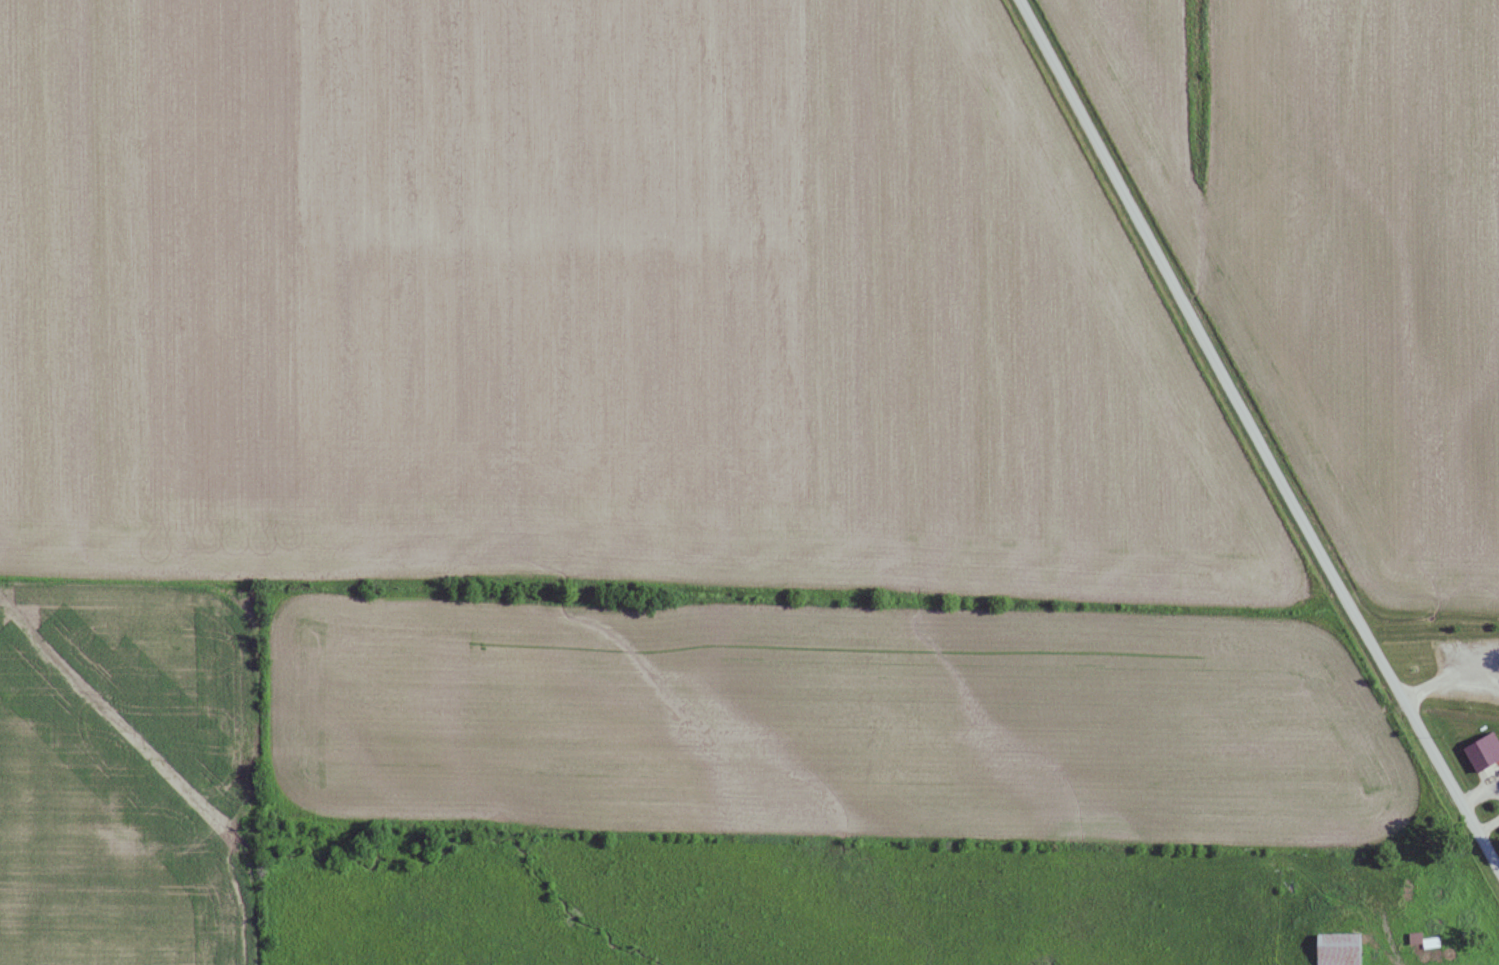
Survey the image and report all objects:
road: (1256, 435)
building: (1337, 948)

